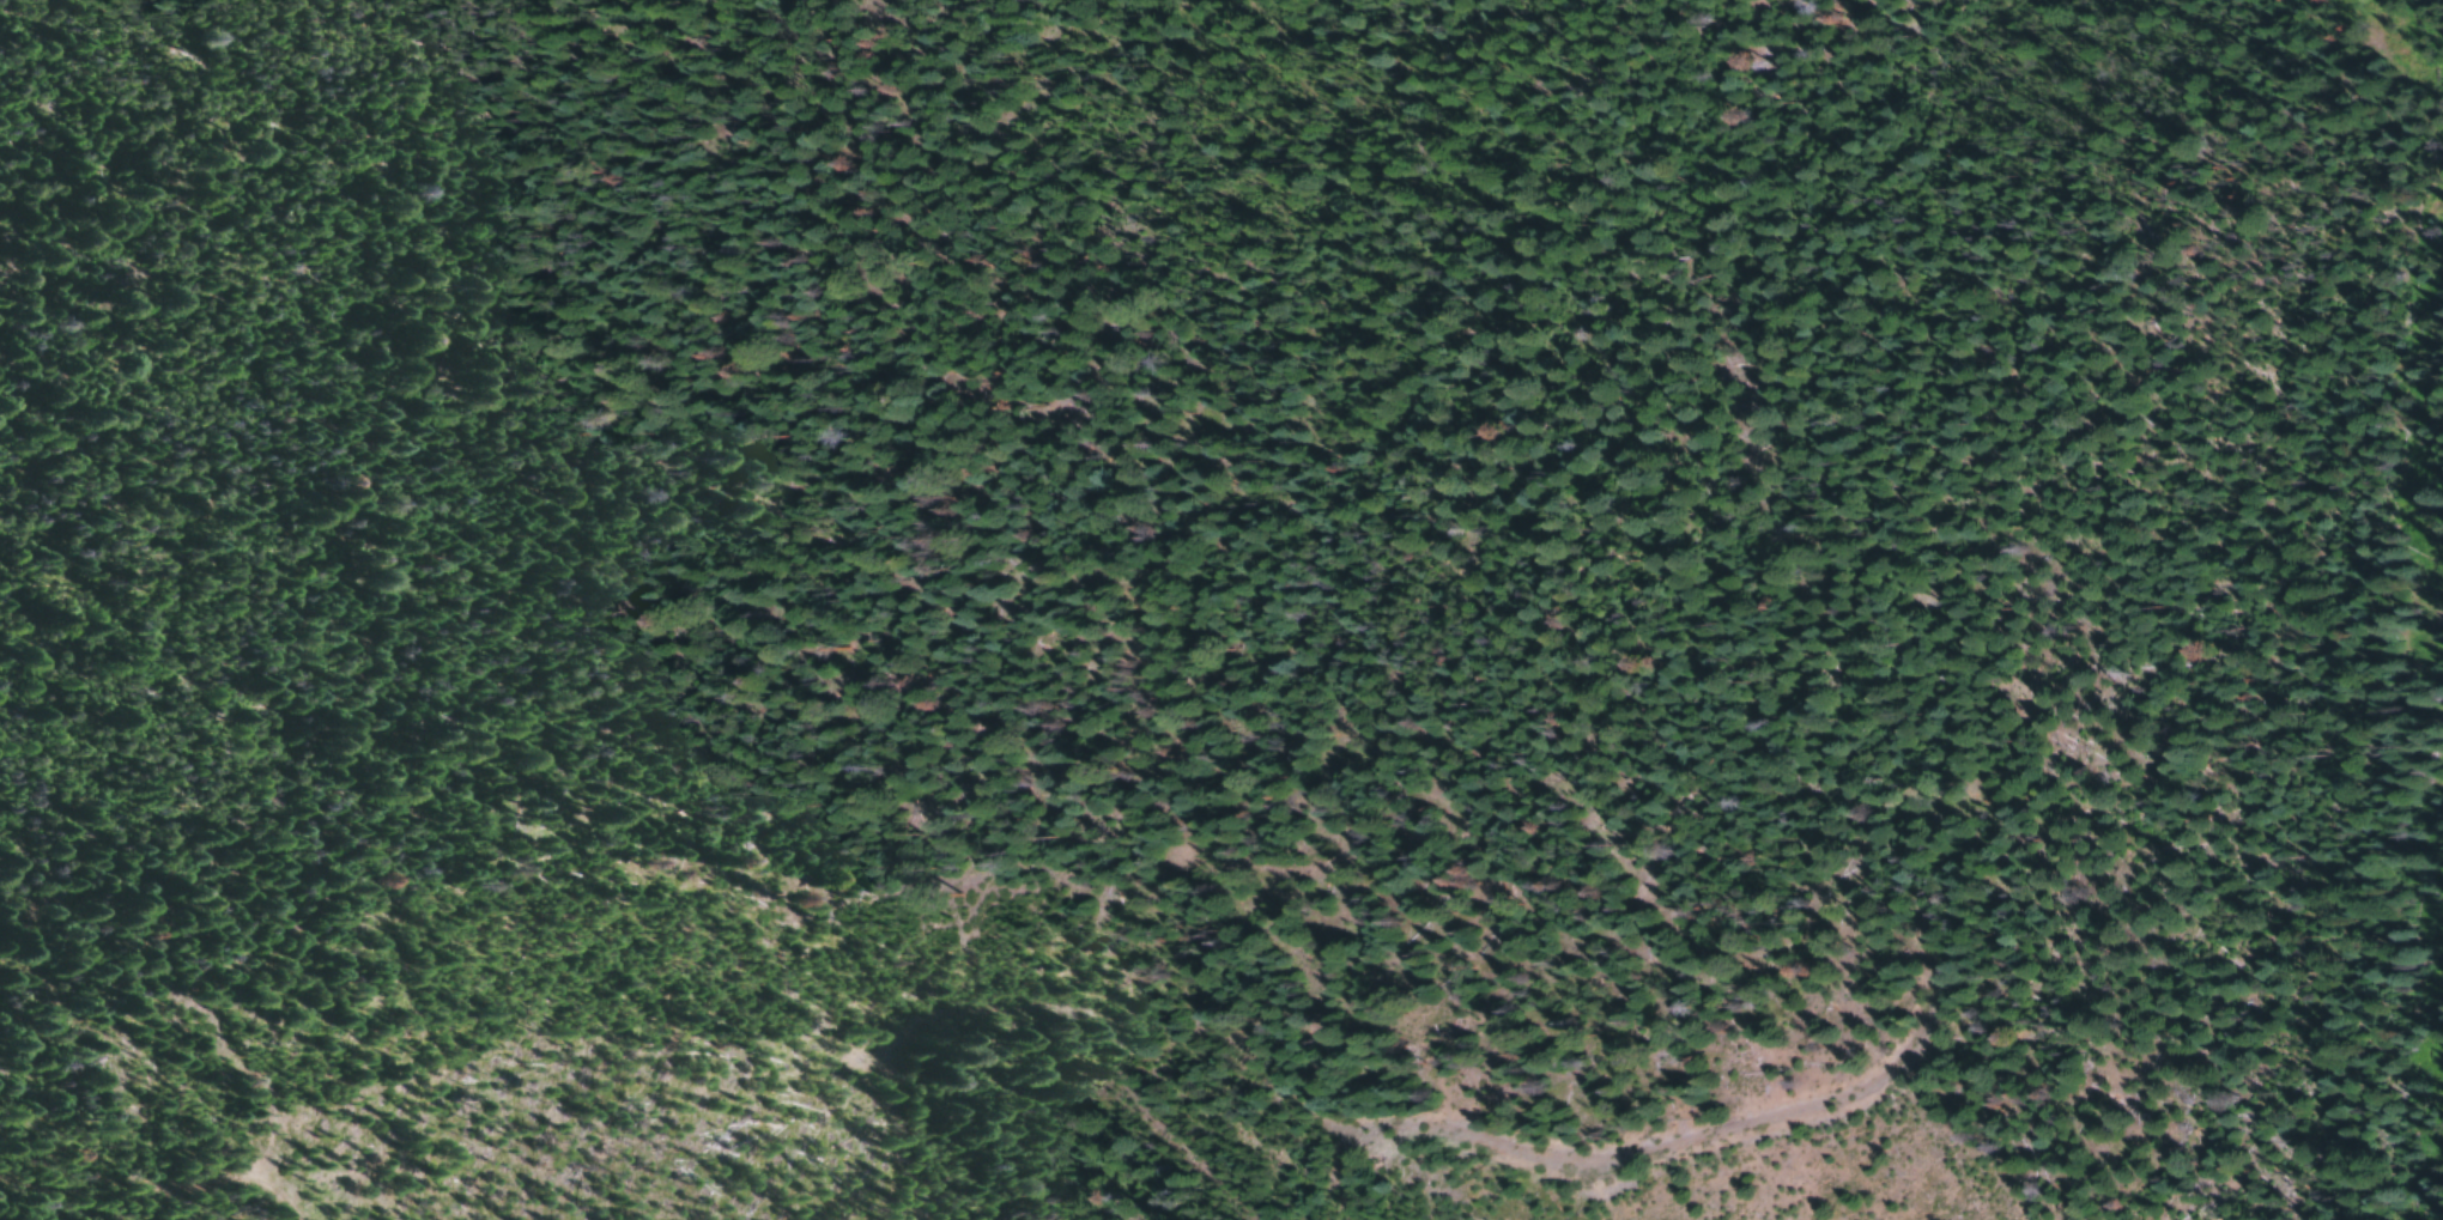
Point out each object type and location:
road: (2432, 7)
road: (208, 1080)
road: (1493, 1155)

